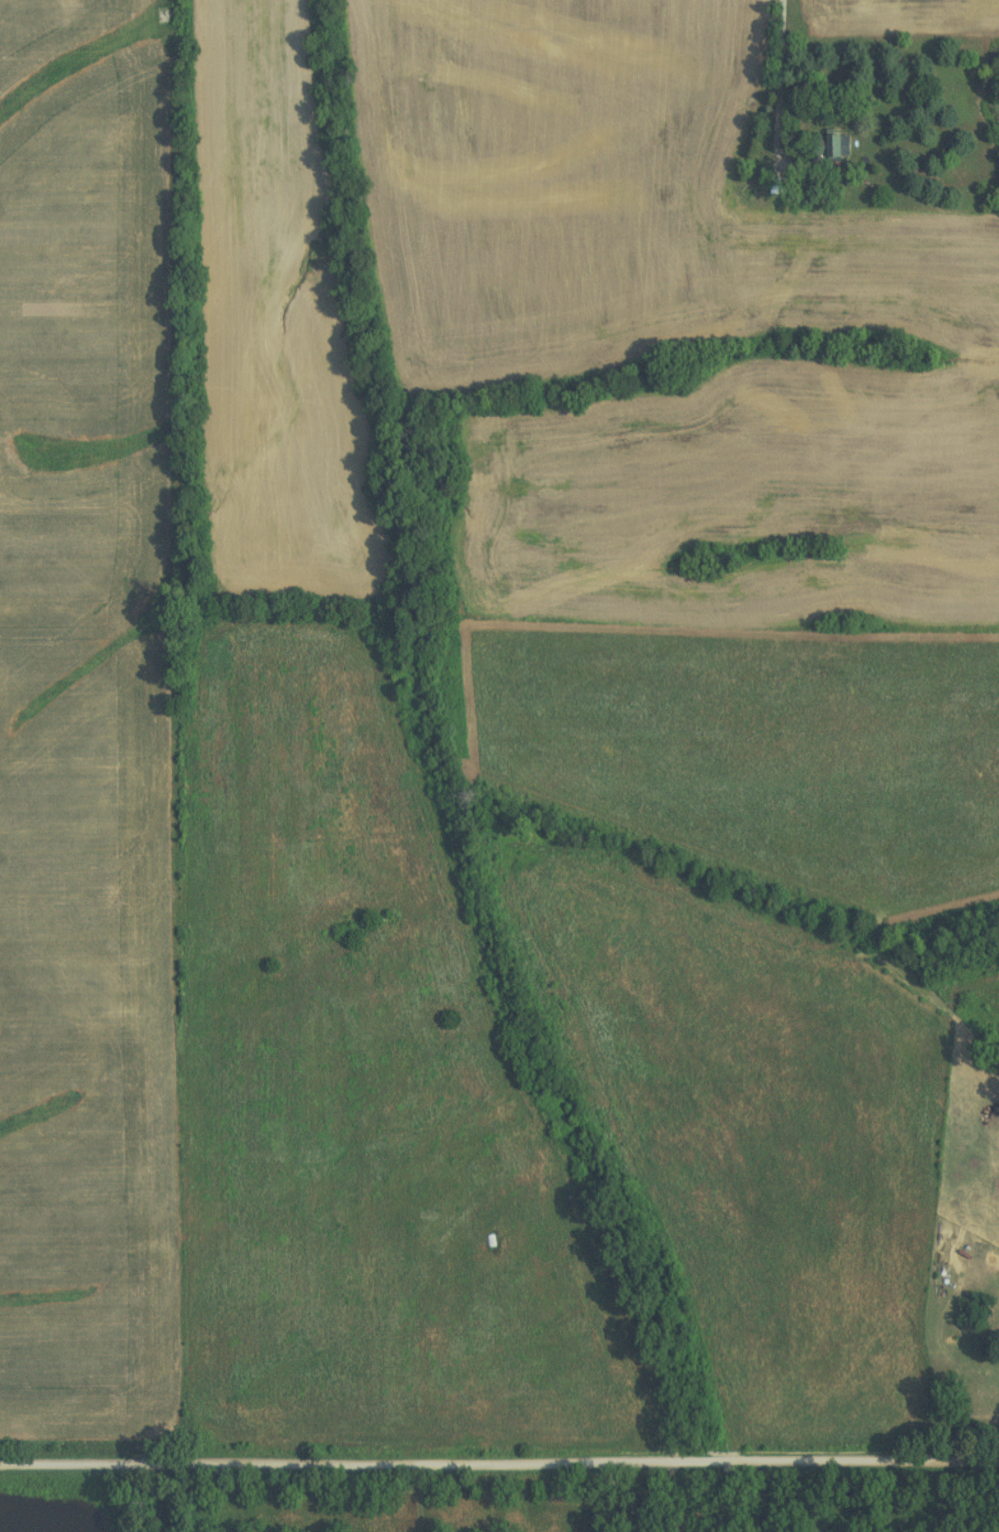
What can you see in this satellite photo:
road: (779, 54)
building: (837, 144)
building: (779, 184)
building: (747, 191)
road: (499, 1465)

